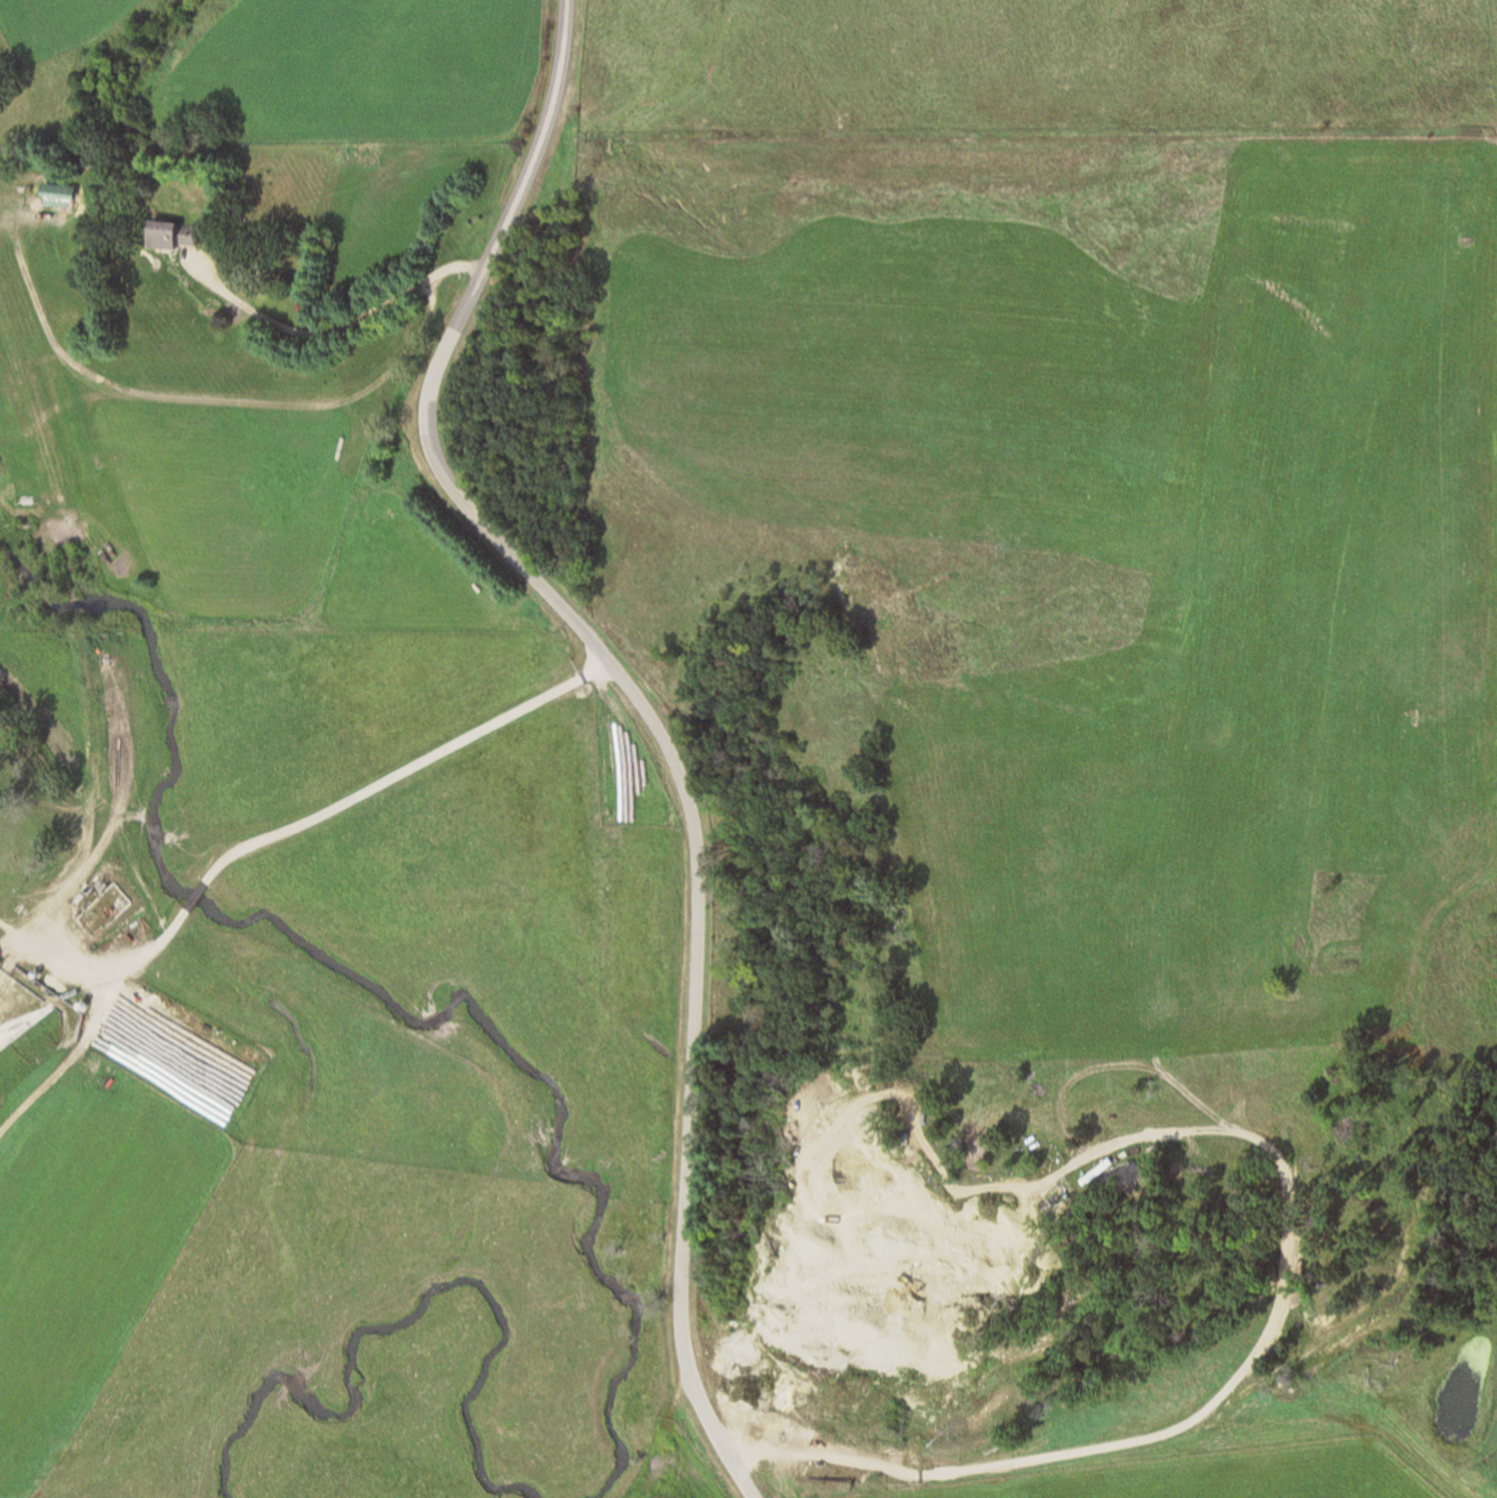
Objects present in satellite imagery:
building: (54, 197)
building: (168, 239)
road: (329, 332)
road: (640, 709)
road: (293, 830)
road: (1240, 1134)
quarry: (791, 1323)
road: (1030, 1459)

